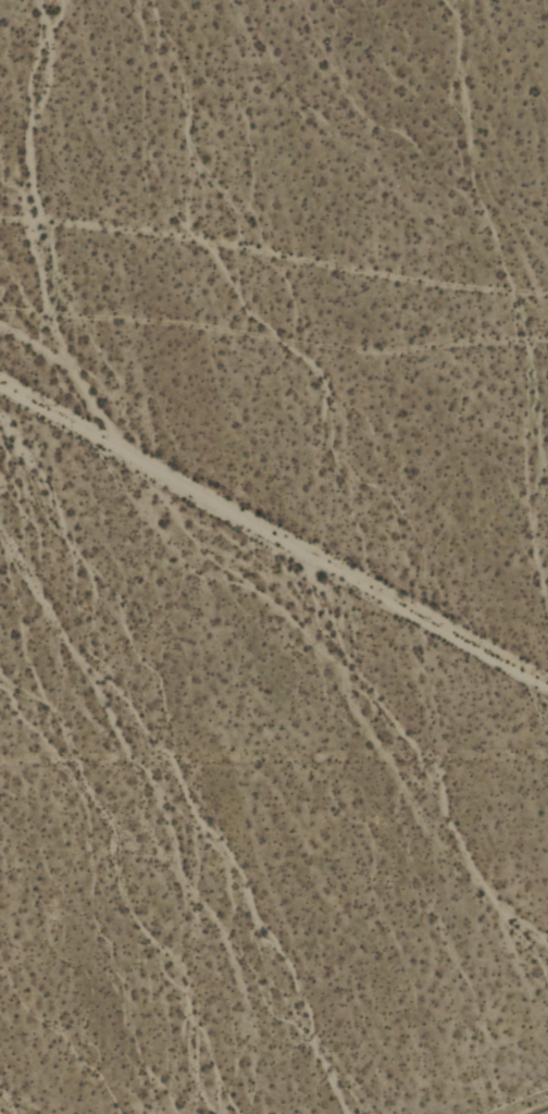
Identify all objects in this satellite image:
road: (272, 540)
railway: (544, 1112)

